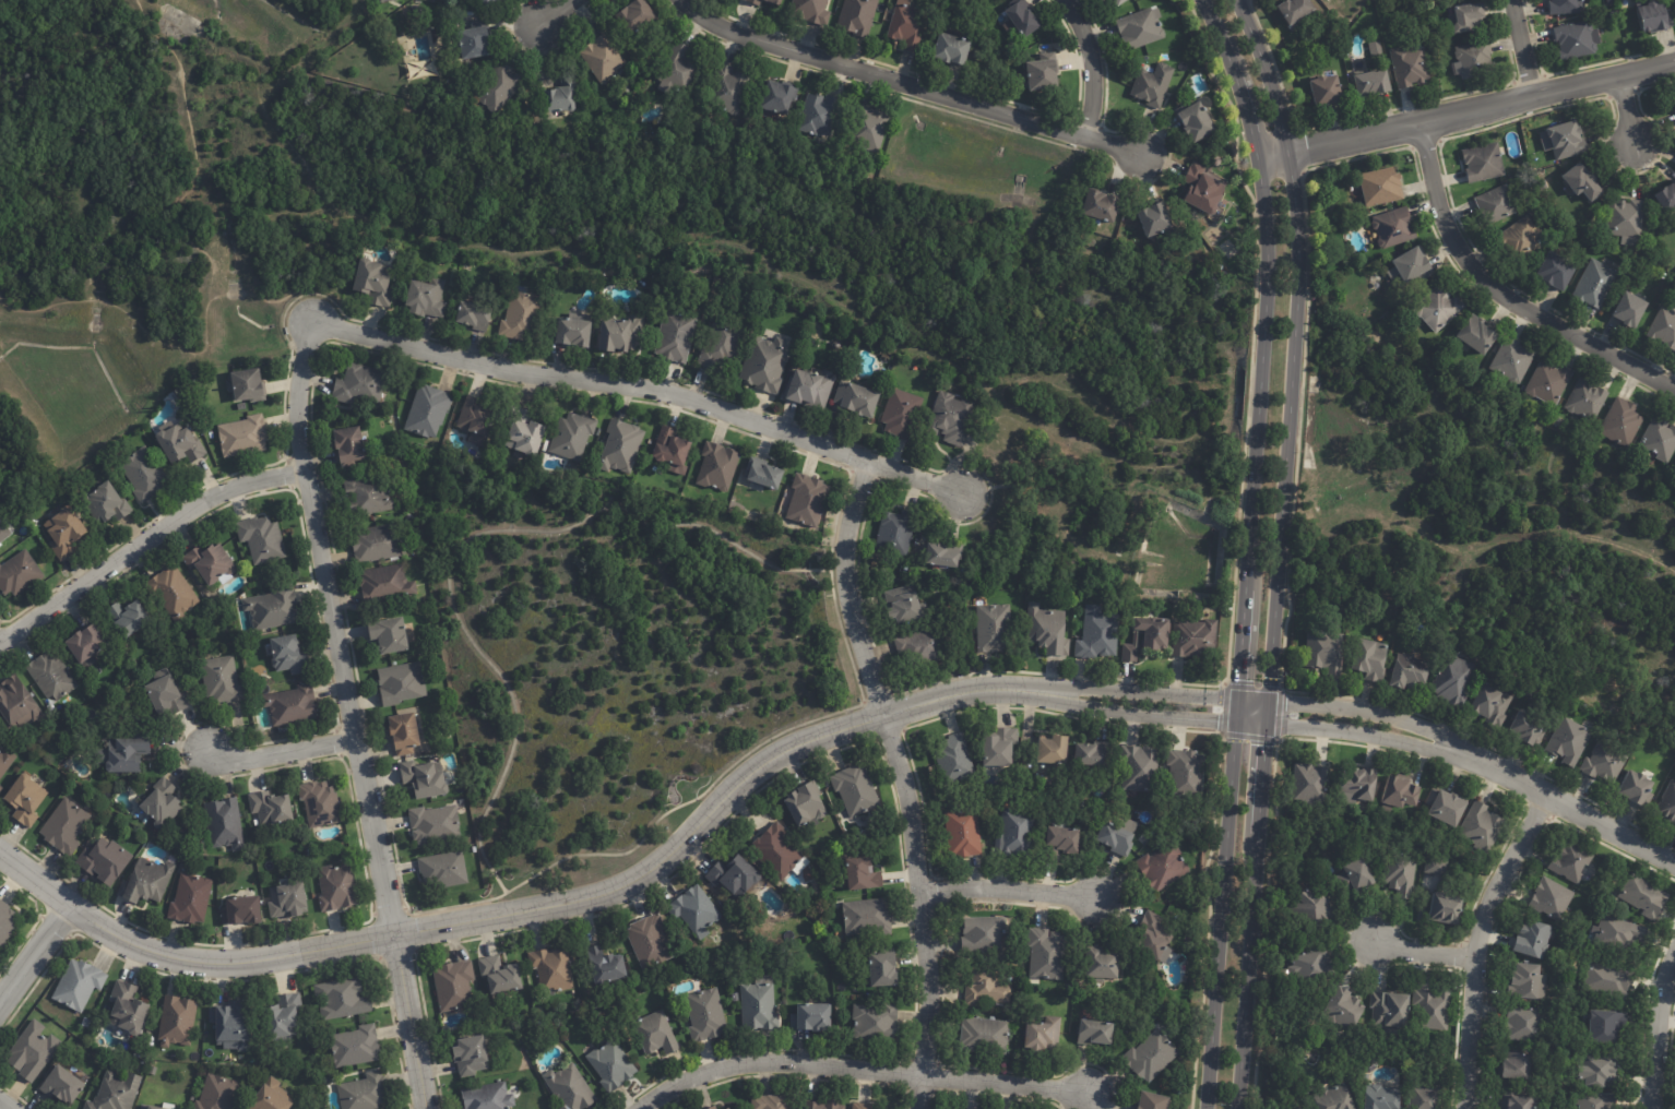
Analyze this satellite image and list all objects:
building: (388, 0)
building: (497, 0)
building: (974, 0)
building: (486, 2)
building: (765, 2)
building: (1120, 2)
building: (1613, 2)
building: (1567, 7)
building: (1297, 10)
building: (417, 11)
building: (811, 11)
building: (1618, 14)
road: (543, 16)
building: (635, 16)
building: (857, 17)
building: (1022, 17)
building: (1469, 19)
building: (1655, 19)
building: (911, 26)
building: (1141, 28)
building: (1578, 40)
building: (473, 44)
road: (1522, 47)
building: (1376, 49)
building: (952, 50)
building: (979, 56)
building: (604, 59)
building: (1475, 60)
road: (1092, 65)
building: (680, 68)
building: (1411, 68)
building: (1043, 72)
building: (1374, 83)
building: (1153, 85)
road: (915, 86)
building: (498, 87)
building: (729, 90)
building: (1327, 92)
building: (560, 98)
building: (779, 98)
building: (1674, 99)
road: (1627, 108)
road: (1465, 109)
building: (819, 115)
building: (1196, 122)
building: (870, 129)
building: (1568, 140)
building: (1485, 164)
building: (1583, 182)
building: (1381, 187)
building: (1204, 191)
building: (1667, 199)
building: (1496, 205)
building: (1102, 207)
building: (1156, 222)
building: (1624, 222)
building: (1394, 228)
building: (1520, 240)
building: (1229, 249)
building: (1414, 264)
building: (1248, 271)
building: (1557, 272)
building: (1664, 276)
building: (373, 281)
building: (1595, 284)
road: (1501, 293)
building: (426, 297)
building: (1439, 310)
building: (1631, 311)
building: (474, 314)
building: (522, 314)
building: (1664, 327)
building: (571, 331)
building: (621, 333)
building: (676, 335)
building: (1477, 335)
building: (722, 343)
building: (1512, 361)
building: (764, 363)
building: (1549, 383)
building: (247, 384)
building: (359, 384)
building: (811, 386)
road: (649, 387)
building: (857, 398)
building: (1587, 401)
building: (241, 406)
building: (428, 410)
building: (902, 413)
building: (951, 418)
building: (476, 420)
building: (1558, 421)
building: (1621, 424)
building: (524, 431)
building: (243, 436)
building: (572, 436)
building: (1660, 441)
building: (179, 443)
building: (348, 444)
building: (621, 445)
building: (672, 450)
building: (718, 466)
building: (763, 473)
building: (144, 474)
road: (218, 487)
building: (368, 496)
building: (808, 500)
building: (105, 502)
building: (3, 532)
building: (63, 532)
building: (895, 533)
building: (262, 538)
building: (377, 542)
road: (465, 542)
road: (1247, 549)
road: (1278, 550)
building: (943, 554)
building: (211, 563)
building: (19, 573)
building: (962, 582)
building: (385, 584)
road: (72, 586)
building: (173, 591)
building: (903, 604)
building: (273, 607)
building: (127, 618)
building: (994, 628)
building: (1048, 629)
building: (389, 634)
building: (1098, 634)
building: (1149, 636)
building: (1196, 637)
building: (86, 644)
building: (926, 645)
building: (1327, 648)
building: (288, 655)
building: (1373, 659)
building: (1411, 670)
building: (51, 676)
building: (222, 680)
building: (1456, 680)
building: (402, 683)
road: (1114, 687)
building: (165, 695)
traffic signals: (1237, 695)
traffic signals: (1268, 699)
building: (17, 703)
building: (1493, 704)
building: (292, 705)
road: (1379, 712)
road: (346, 716)
road: (1221, 720)
traffic signals: (1235, 722)
traffic signals: (1266, 724)
building: (1529, 728)
building: (403, 734)
building: (1570, 741)
building: (1000, 746)
road: (277, 748)
building: (1055, 750)
building: (123, 751)
building: (1094, 754)
building: (955, 759)
building: (5, 761)
building: (1605, 762)
building: (1138, 768)
building: (1187, 776)
road: (1516, 777)
building: (425, 779)
road: (899, 779)
building: (1311, 784)
building: (1358, 785)
building: (1, 788)
building: (1637, 788)
building: (856, 789)
building: (1399, 794)
building: (25, 801)
building: (161, 803)
building: (320, 803)
building: (1667, 804)
building: (807, 806)
building: (1448, 807)
building: (270, 808)
building: (433, 823)
building: (225, 824)
building: (64, 826)
building: (1483, 827)
road: (1613, 828)
building: (1017, 832)
building: (964, 833)
building: (1117, 839)
building: (1062, 843)
building: (198, 844)
building: (776, 851)
building: (105, 861)
building: (1572, 861)
building: (1164, 867)
building: (1437, 868)
building: (443, 869)
building: (1402, 873)
building: (734, 875)
building: (860, 875)
building: (1357, 878)
building: (145, 882)
building: (336, 887)
road: (1007, 893)
building: (1646, 897)
building: (190, 899)
building: (1552, 899)
building: (287, 901)
building: (1316, 908)
building: (1446, 908)
building: (241, 911)
building: (696, 911)
road: (495, 916)
building: (868, 917)
building: (5, 923)
building: (983, 933)
building: (1619, 933)
building: (1153, 937)
building: (1534, 940)
building: (650, 942)
road: (1477, 943)
road: (1422, 951)
building: (1047, 954)
road: (37, 955)
building: (605, 966)
building: (1102, 966)
building: (1314, 966)
building: (553, 969)
building: (883, 970)
building: (500, 977)
building: (1611, 981)
building: (79, 982)
building: (1529, 983)
building: (453, 986)
building: (988, 988)
building: (1070, 989)
building: (1079, 990)
building: (735, 997)
building: (342, 998)
building: (760, 1005)
building: (128, 1006)
building: (1019, 1010)
building: (1344, 1010)
building: (1391, 1010)
building: (1433, 1010)
building: (705, 1015)
building: (285, 1017)
building: (812, 1018)
building: (177, 1019)
building: (231, 1023)
building: (876, 1023)
building: (1528, 1024)
building: (1607, 1027)
building: (1095, 1032)
road: (1660, 1033)
building: (656, 1035)
building: (988, 1035)
building: (1044, 1036)
building: (355, 1047)
building: (33, 1050)
building: (136, 1054)
building: (471, 1057)
building: (1151, 1058)
building: (143, 1061)
road: (862, 1062)
building: (611, 1066)
building: (1520, 1068)
building: (1601, 1070)
building: (326, 1078)
building: (63, 1085)
building: (570, 1088)
building: (116, 1092)
building: (363, 1092)
building: (217, 1093)
building: (272, 1096)
building: (487, 1097)
building: (1426, 1097)
building: (1335, 1098)
building: (1383, 1098)
building: (1597, 1100)
building: (1153, 1101)
building: (1521, 1101)
road: (8, 1102)
building: (772, 1102)
building: (823, 1105)
building: (863, 1106)
building: (153, 1107)
building: (1296, 1107)
building: (710, 1108)
building: (714, 1108)
building: (732, 1108)

